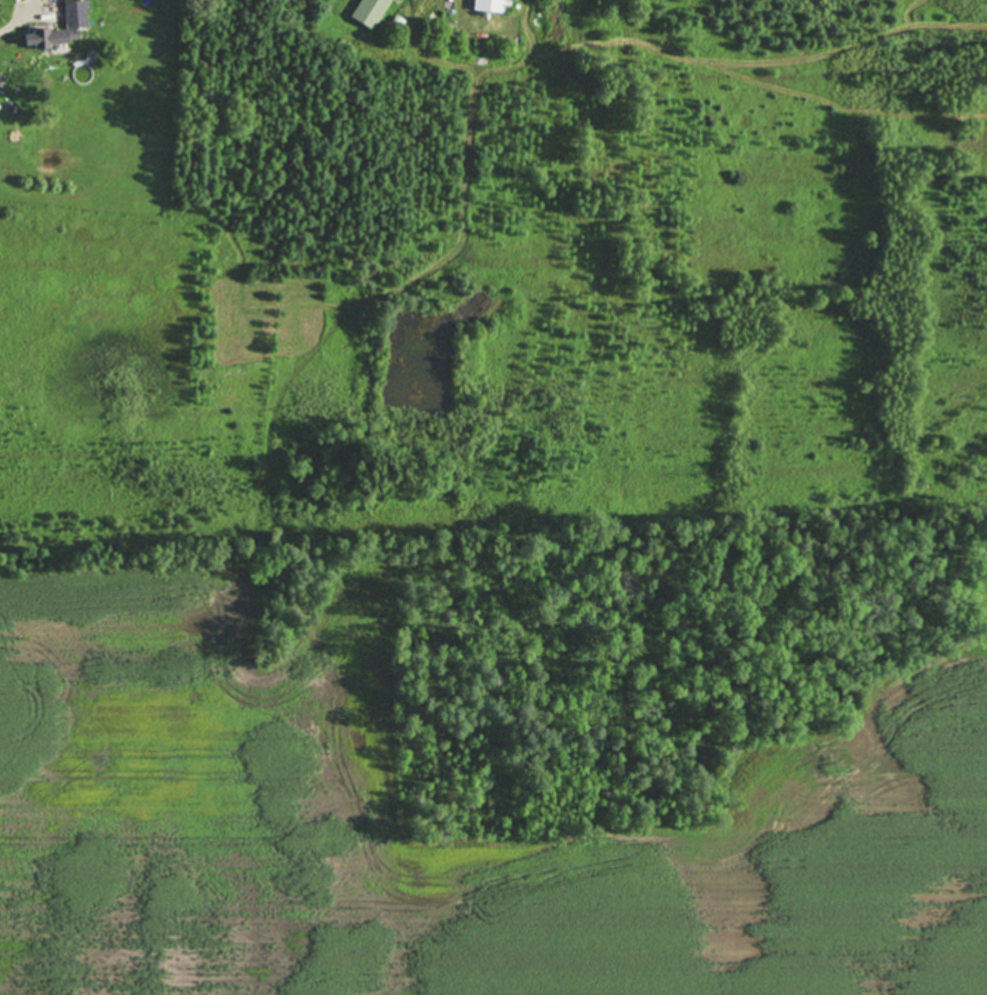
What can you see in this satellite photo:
building: (492, 4)
building: (369, 11)
building: (75, 13)
building: (397, 18)
road: (14, 22)
building: (426, 39)

